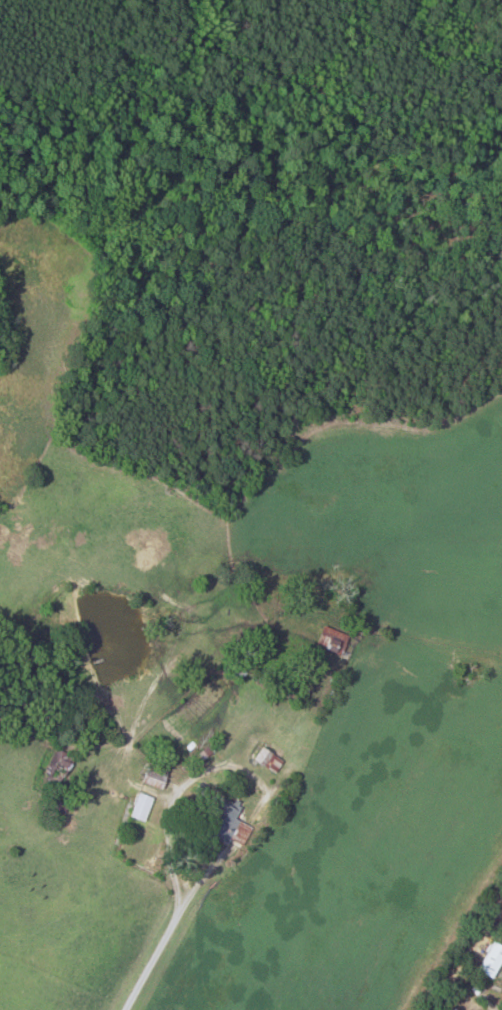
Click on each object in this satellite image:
building: (331, 641)
building: (58, 769)
building: (141, 807)
building: (57, 810)
building: (222, 821)
road: (173, 932)
building: (491, 962)

